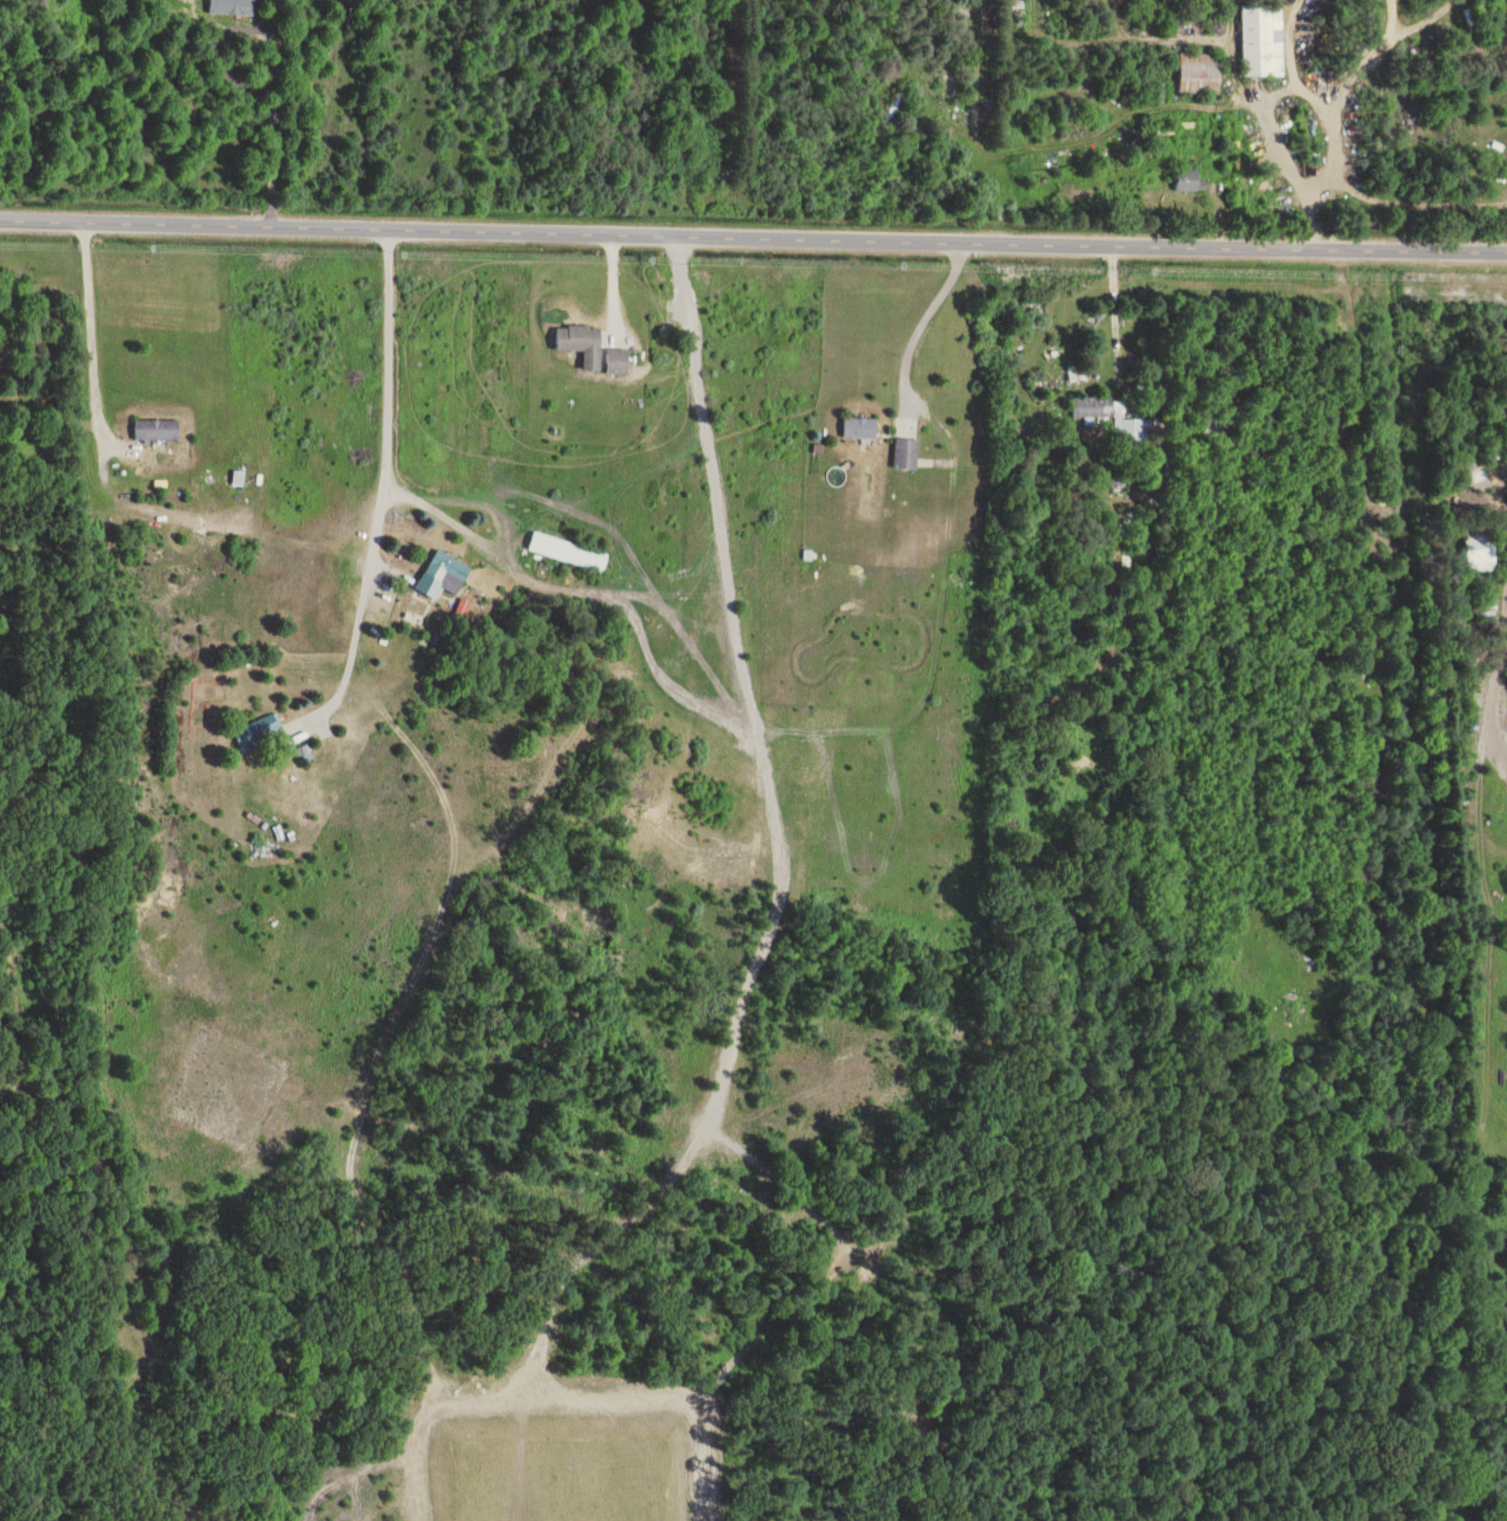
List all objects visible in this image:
building: (232, 6)
building: (1263, 39)
building: (1201, 72)
road: (1269, 94)
building: (895, 107)
road: (274, 119)
building: (1188, 179)
road: (753, 236)
road: (1113, 308)
road: (923, 318)
road: (92, 329)
building: (582, 343)
building: (618, 362)
building: (1098, 407)
building: (860, 428)
building: (158, 429)
building: (1133, 432)
building: (907, 454)
road: (1499, 477)
building: (239, 478)
road: (380, 487)
building: (1477, 549)
building: (569, 552)
building: (444, 574)
road: (585, 594)
building: (261, 732)
road: (768, 770)
building: (868, 1267)

